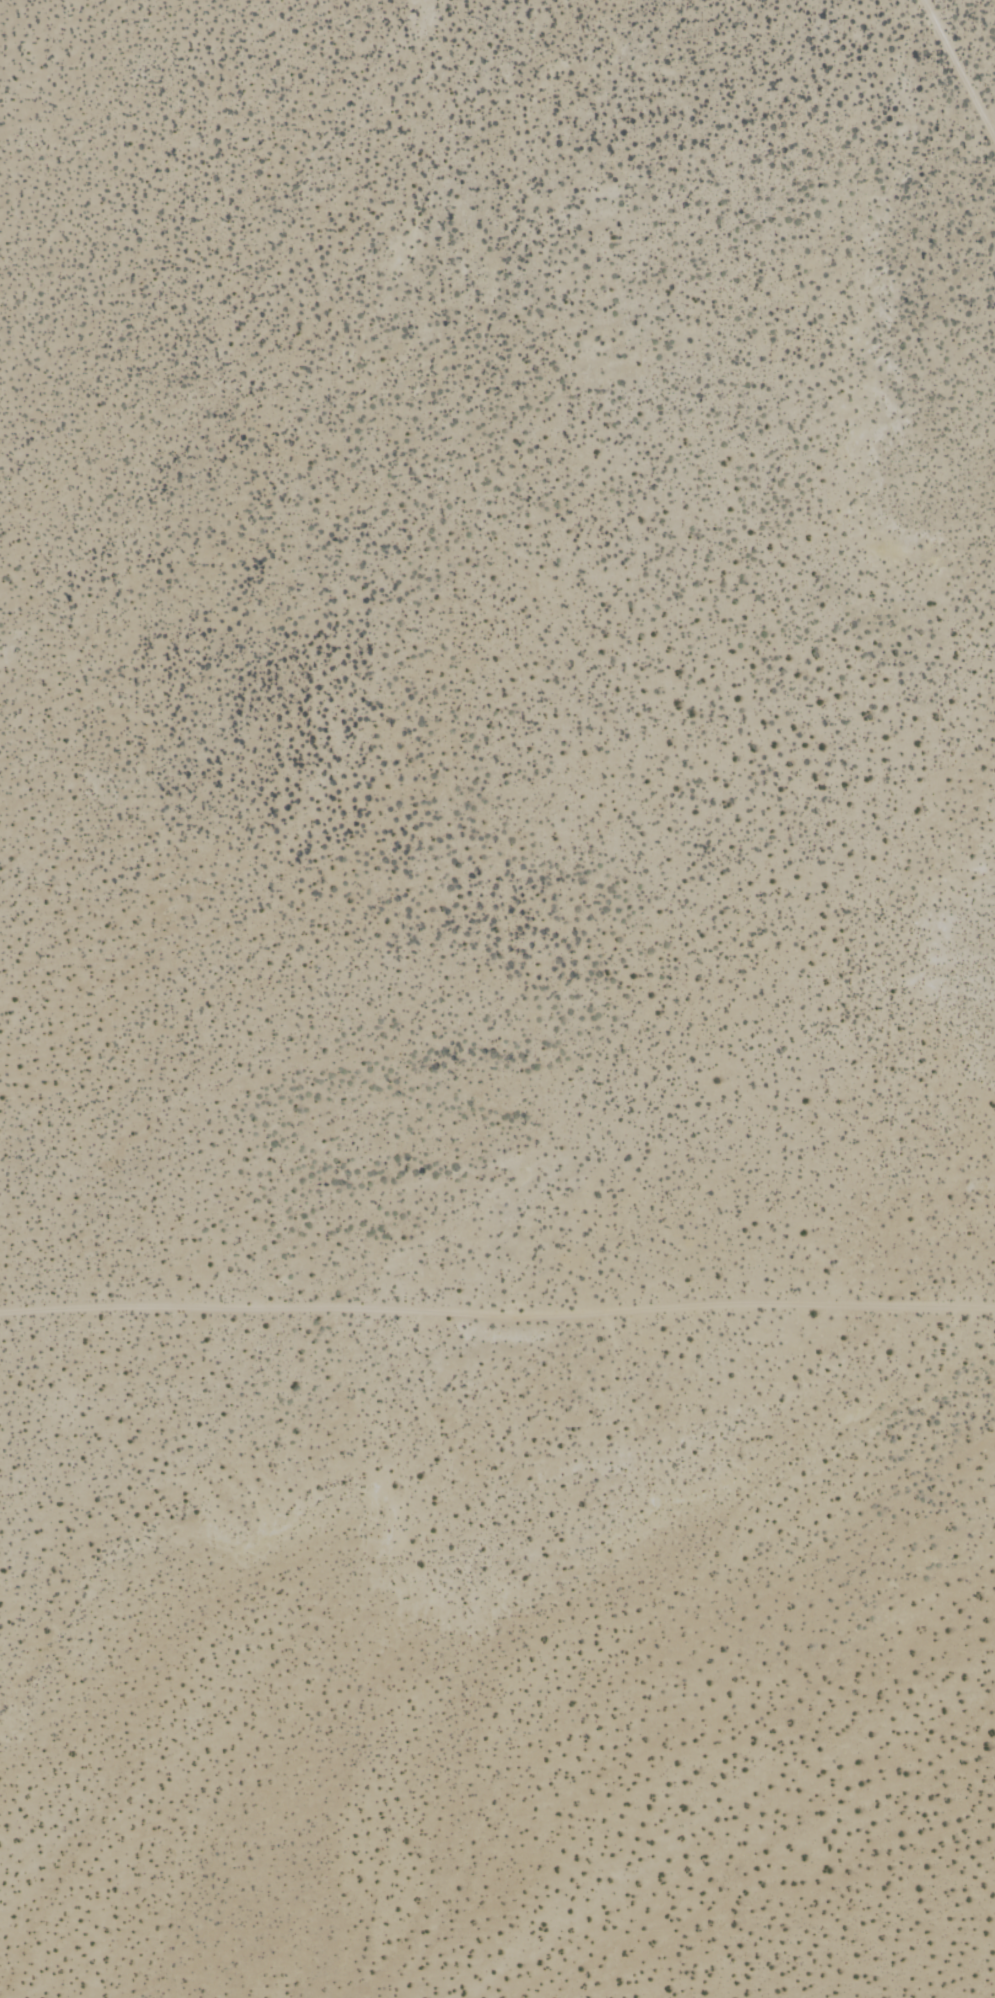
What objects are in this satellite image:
road: (955, 76)
road: (334, 1276)
road: (831, 1296)

